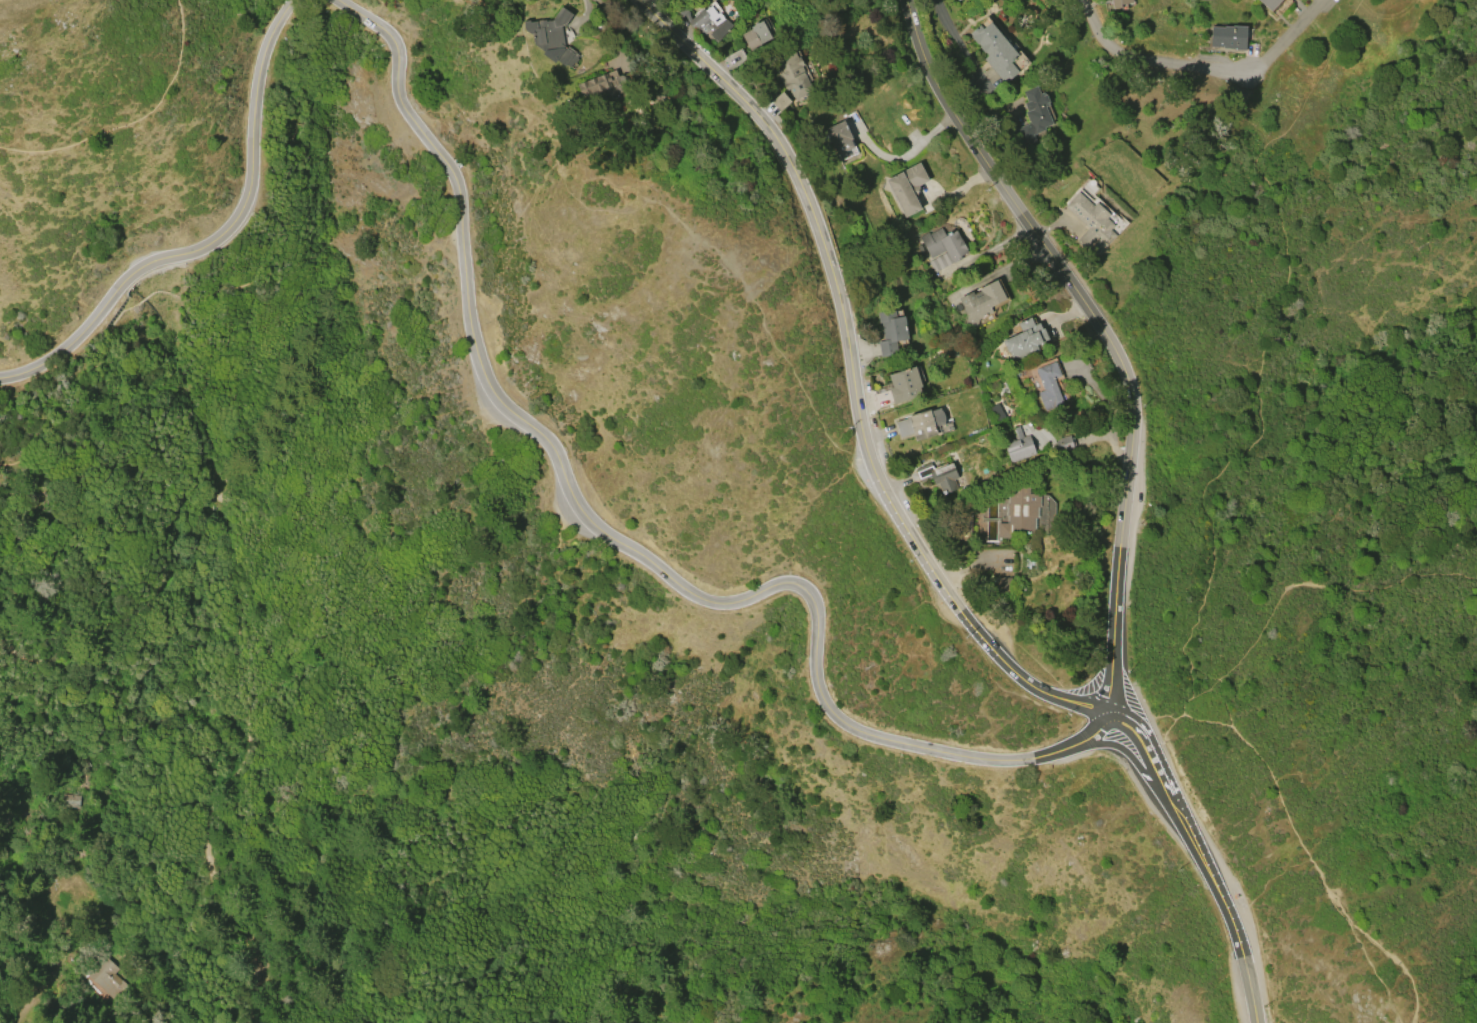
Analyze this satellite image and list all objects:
road: (287, 0)
road: (288, 0)
building: (955, 0)
building: (1118, 3)
building: (1269, 4)
road: (586, 13)
building: (709, 21)
building: (755, 35)
building: (552, 37)
building: (1228, 37)
road: (957, 41)
building: (996, 51)
road: (1201, 69)
building: (792, 75)
building: (608, 86)
building: (780, 101)
building: (1032, 116)
road: (133, 120)
building: (837, 137)
road: (295, 146)
road: (907, 154)
building: (907, 188)
building: (1090, 223)
road: (214, 240)
building: (943, 247)
road: (142, 290)
building: (981, 302)
building: (891, 332)
road: (1101, 333)
building: (1023, 339)
road: (1264, 358)
road: (106, 367)
road: (852, 378)
building: (904, 385)
building: (1048, 386)
building: (916, 425)
building: (1064, 443)
building: (1018, 447)
building: (939, 476)
building: (1018, 511)
road: (620, 541)
building: (1029, 564)
building: (1002, 584)
road: (1327, 587)
road: (1223, 686)
road: (207, 819)
road: (1294, 832)
road: (1200, 860)
road: (72, 926)
road: (134, 992)

